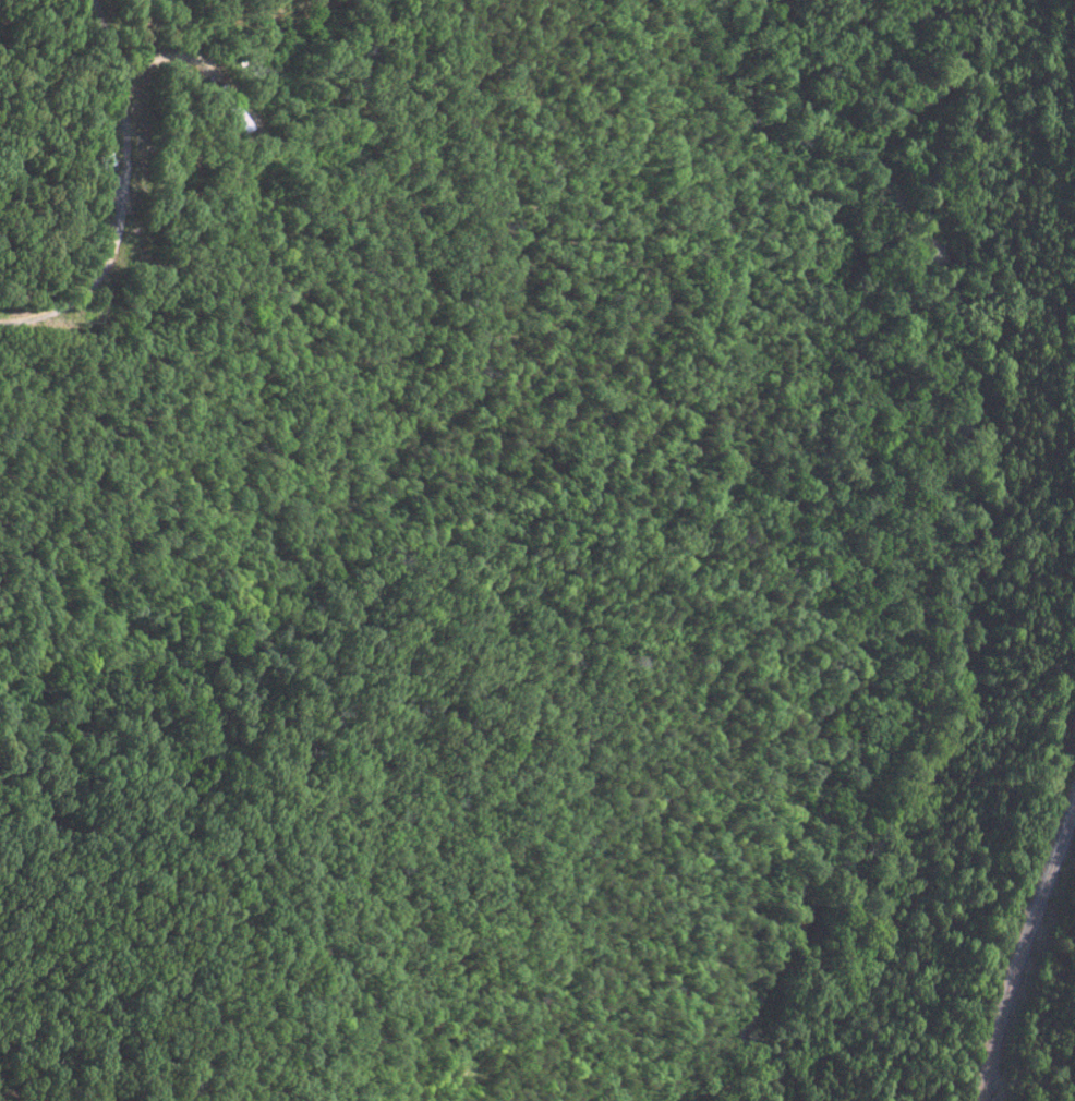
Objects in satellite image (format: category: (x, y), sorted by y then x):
road: (123, 186)
railway: (1007, 911)

